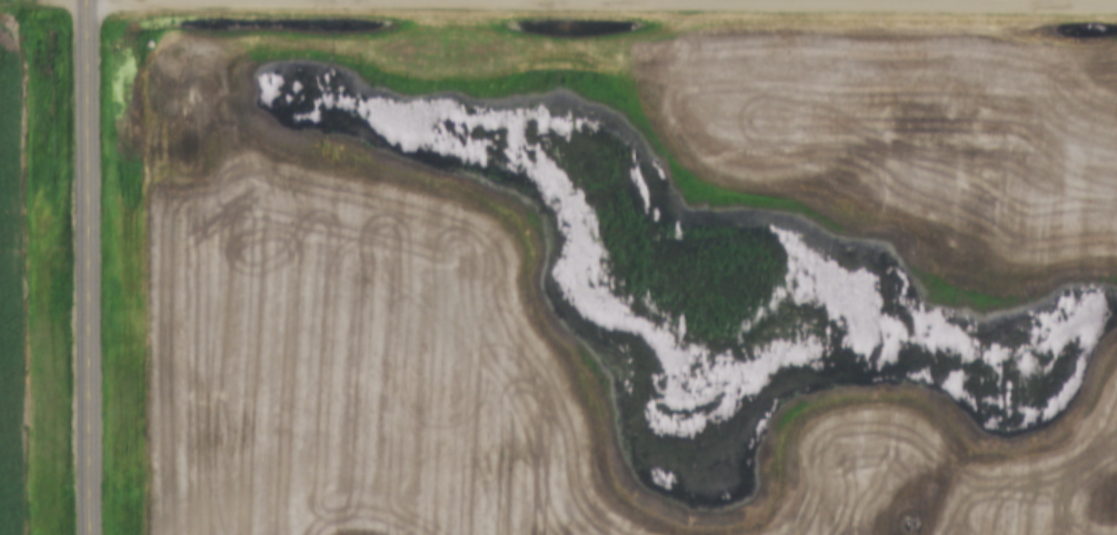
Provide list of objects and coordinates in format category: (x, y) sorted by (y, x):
road: (32, 1)
road: (670, 2)
road: (87, 267)

